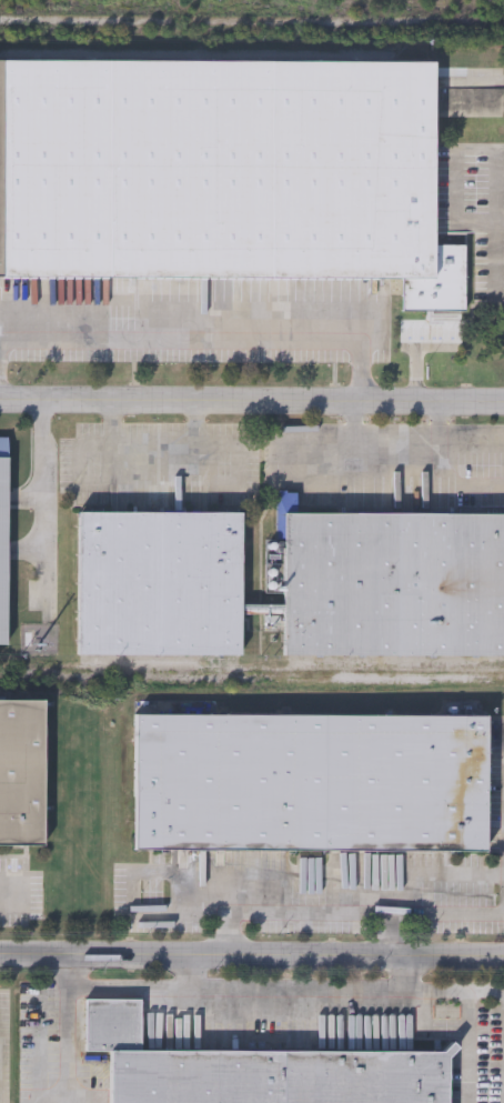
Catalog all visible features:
railway: (241, 21)
railway: (193, 54)
road: (461, 153)
building: (222, 176)
road: (500, 220)
road: (495, 253)
road: (208, 340)
road: (415, 354)
road: (251, 401)
road: (155, 450)
road: (396, 451)
road: (41, 480)
road: (458, 483)
building: (2, 541)
building: (158, 583)
building: (393, 584)
building: (21, 772)
building: (310, 783)
road: (344, 911)
road: (386, 933)
road: (252, 955)
road: (190, 972)
road: (222, 989)
road: (470, 1002)
building: (253, 1070)

